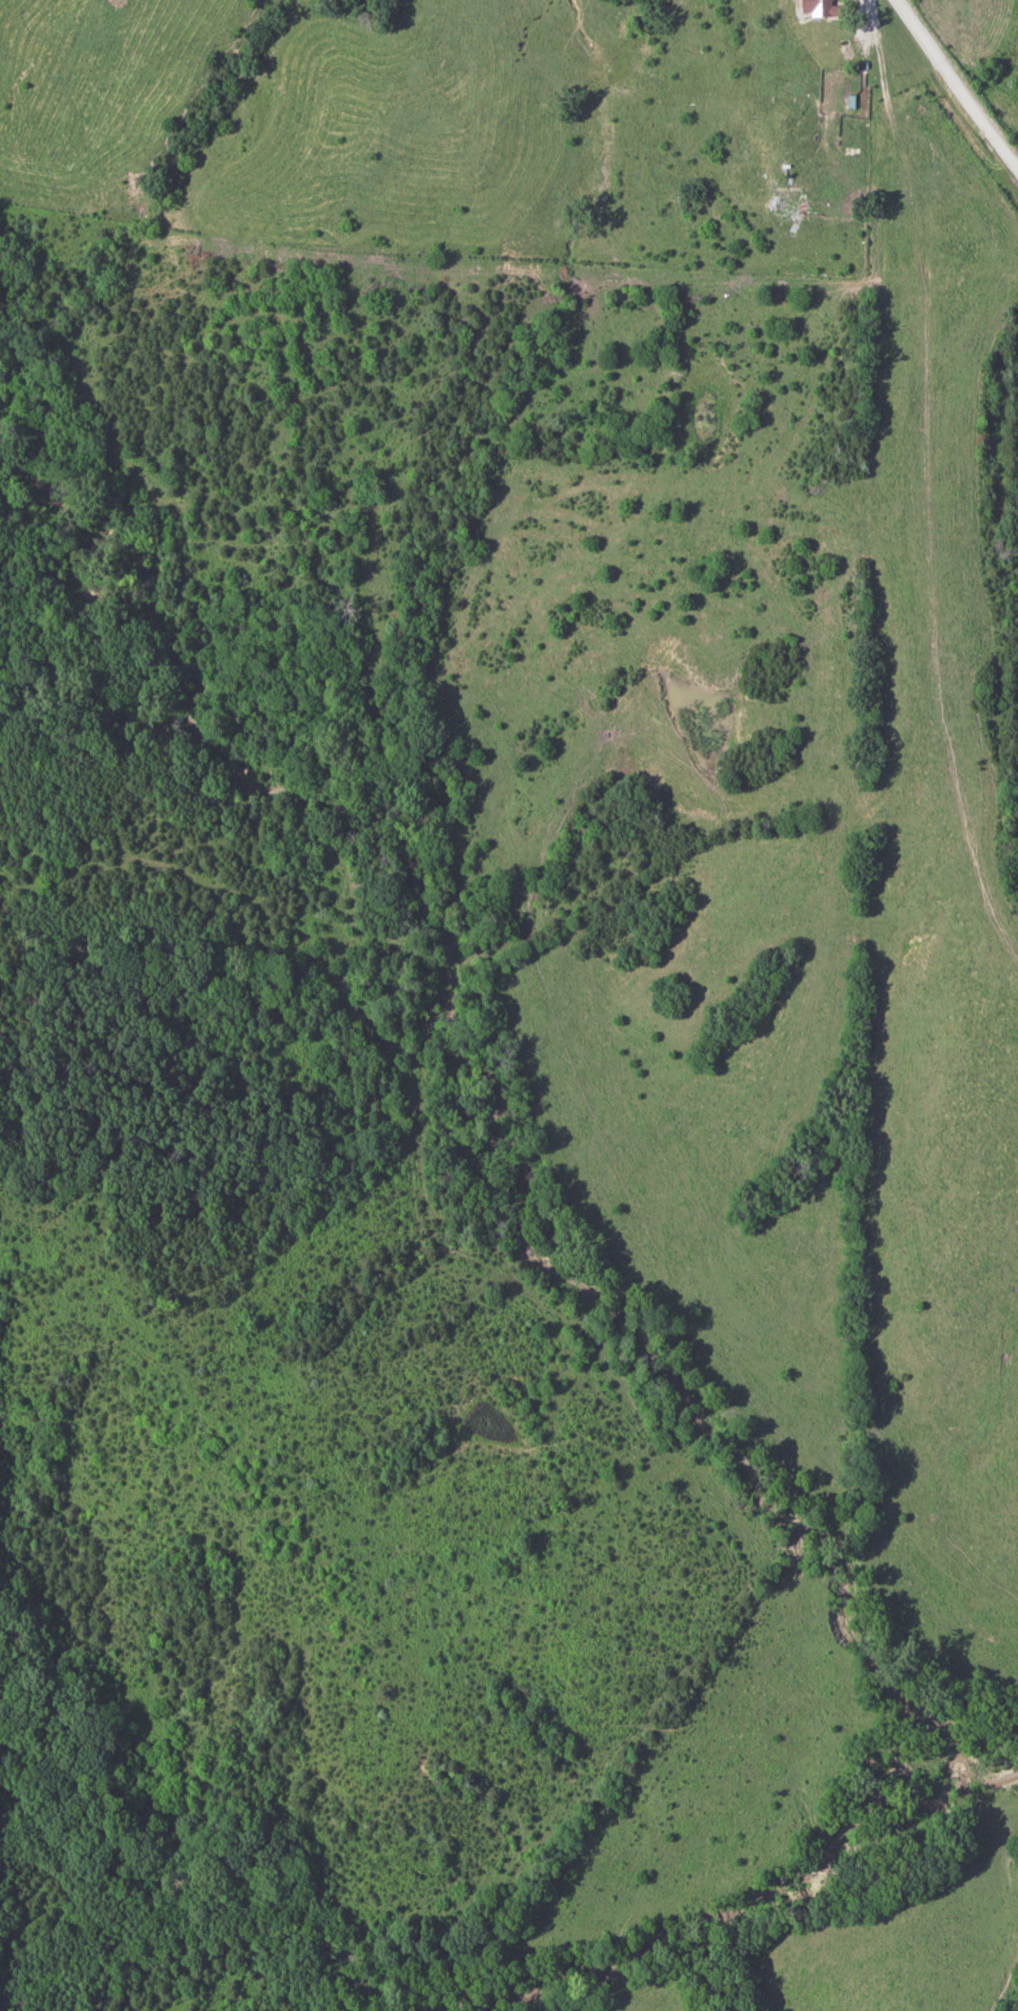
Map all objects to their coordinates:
building: (823, 8)
road: (956, 82)
building: (791, 201)

